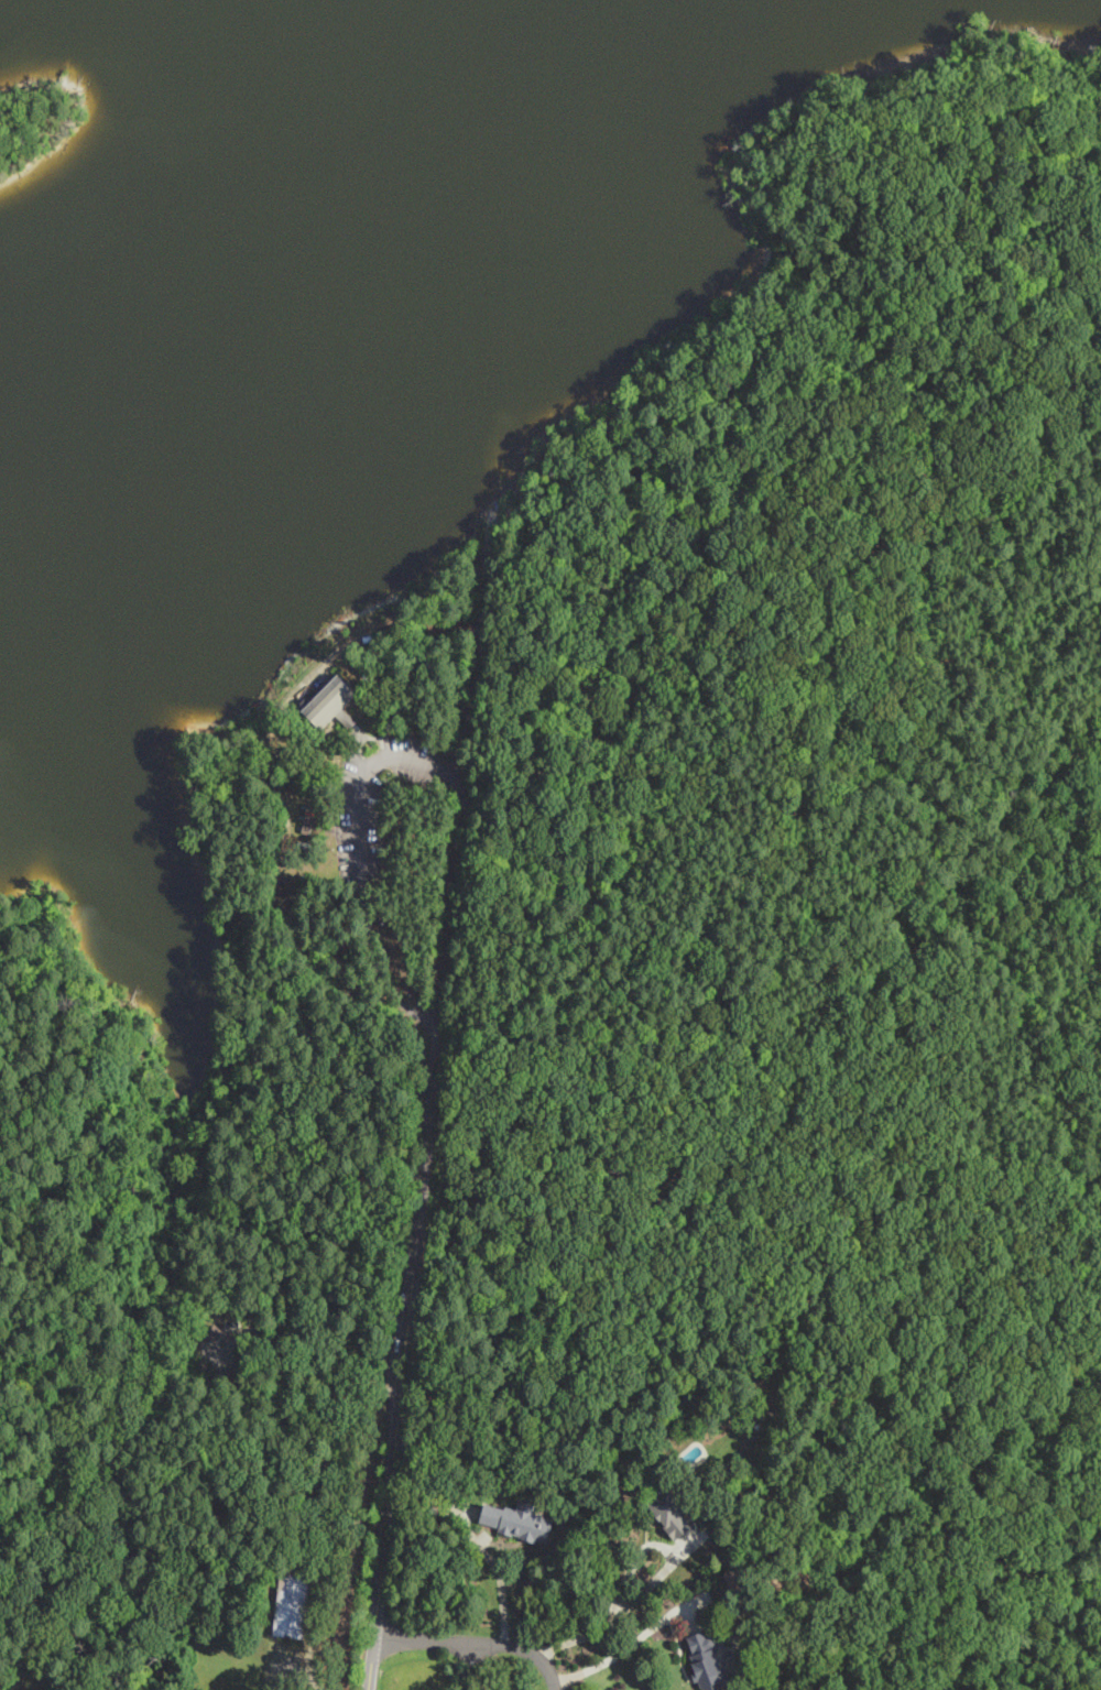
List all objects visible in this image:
road: (380, 626)
building: (328, 702)
parking lot: (378, 807)
park: (682, 837)
road: (363, 847)
road: (425, 1021)
road: (427, 1149)
road: (744, 1218)
road: (282, 1257)
building: (665, 1512)
building: (513, 1520)
road: (502, 1582)
building: (290, 1603)
road: (624, 1612)
road: (478, 1642)
road: (618, 1651)
building: (702, 1661)

